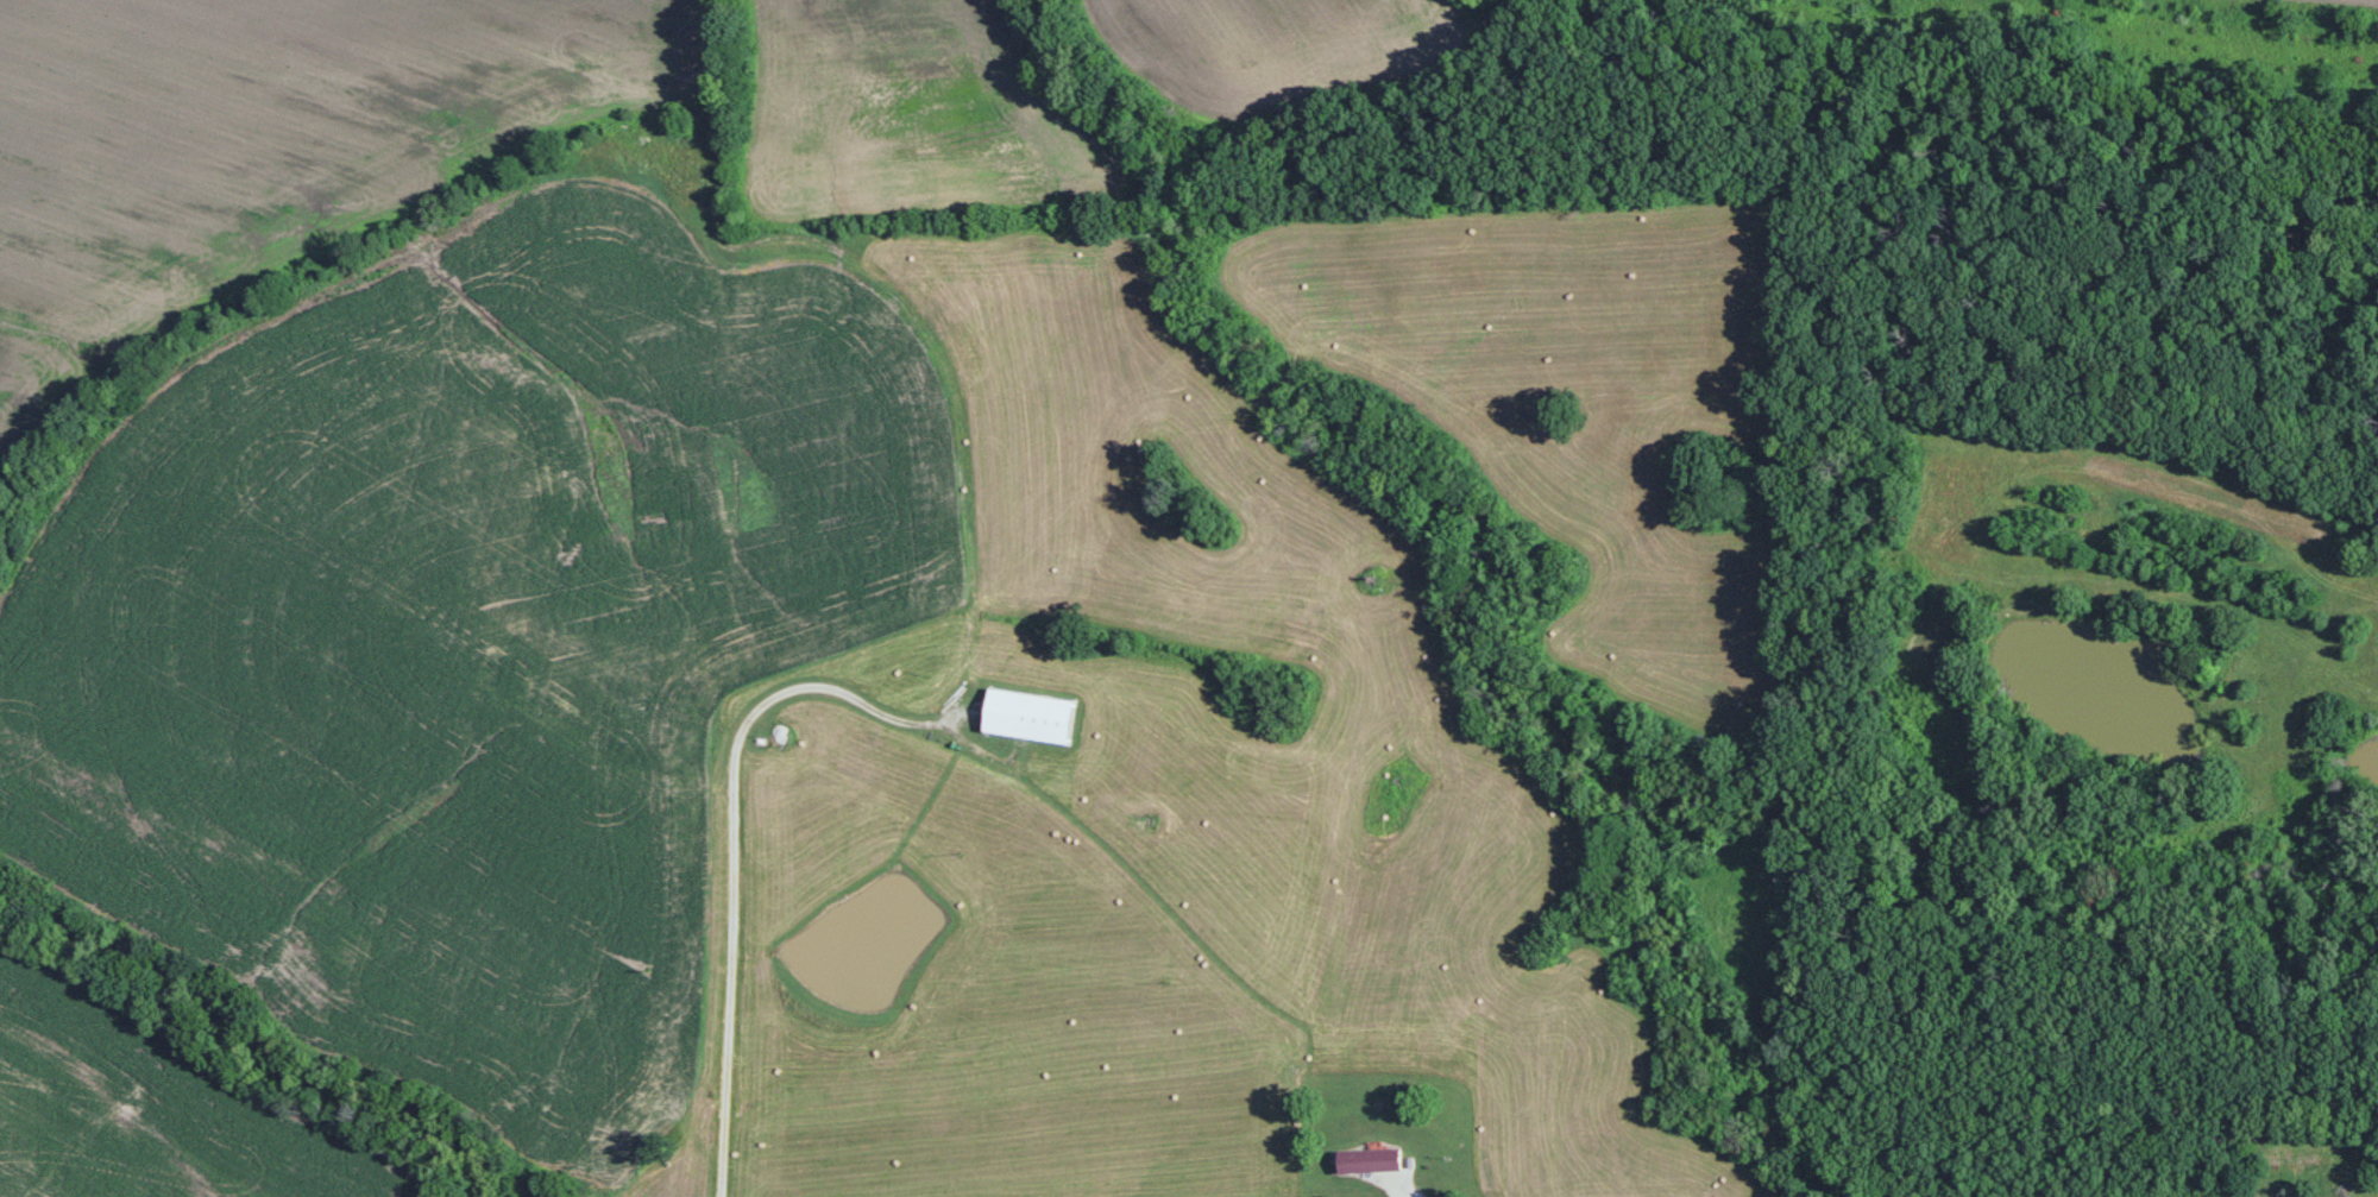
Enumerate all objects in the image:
building: (514, 679)
building: (1028, 716)
road: (728, 932)
building: (2294, 1160)
building: (1370, 1163)

